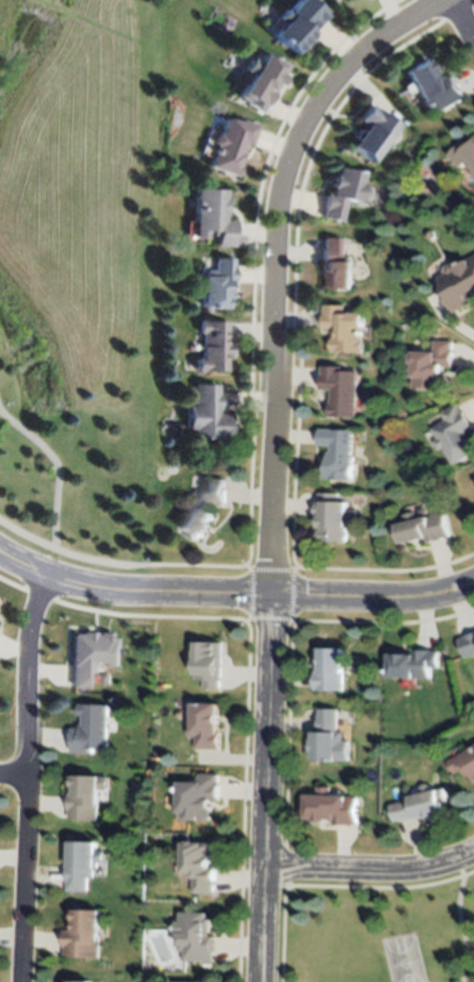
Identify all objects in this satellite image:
road: (465, 14)
building: (298, 25)
building: (259, 81)
building: (434, 84)
building: (374, 130)
building: (231, 144)
building: (463, 153)
building: (473, 173)
building: (344, 191)
building: (213, 215)
building: (430, 234)
building: (336, 263)
park: (82, 275)
building: (217, 282)
building: (458, 283)
building: (342, 327)
building: (213, 346)
building: (431, 364)
building: (338, 388)
building: (206, 413)
building: (454, 435)
building: (336, 451)
road: (276, 458)
road: (58, 467)
building: (204, 505)
building: (334, 516)
building: (421, 527)
road: (71, 555)
road: (233, 596)
building: (466, 643)
building: (95, 653)
building: (208, 663)
building: (412, 663)
building: (327, 669)
building: (205, 726)
building: (91, 728)
building: (331, 746)
building: (464, 763)
road: (11, 779)
road: (22, 779)
building: (86, 796)
building: (199, 798)
building: (418, 805)
building: (331, 806)
building: (84, 862)
building: (200, 867)
road: (370, 869)
building: (85, 935)
park: (379, 935)
building: (196, 937)
building: (82, 980)
building: (457, 980)

